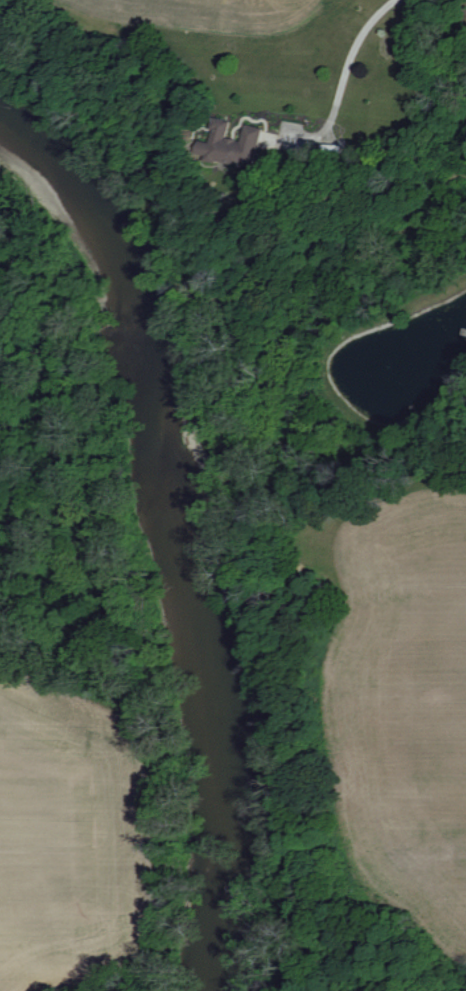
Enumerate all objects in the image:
road: (339, 73)
building: (230, 146)
river: (182, 531)

